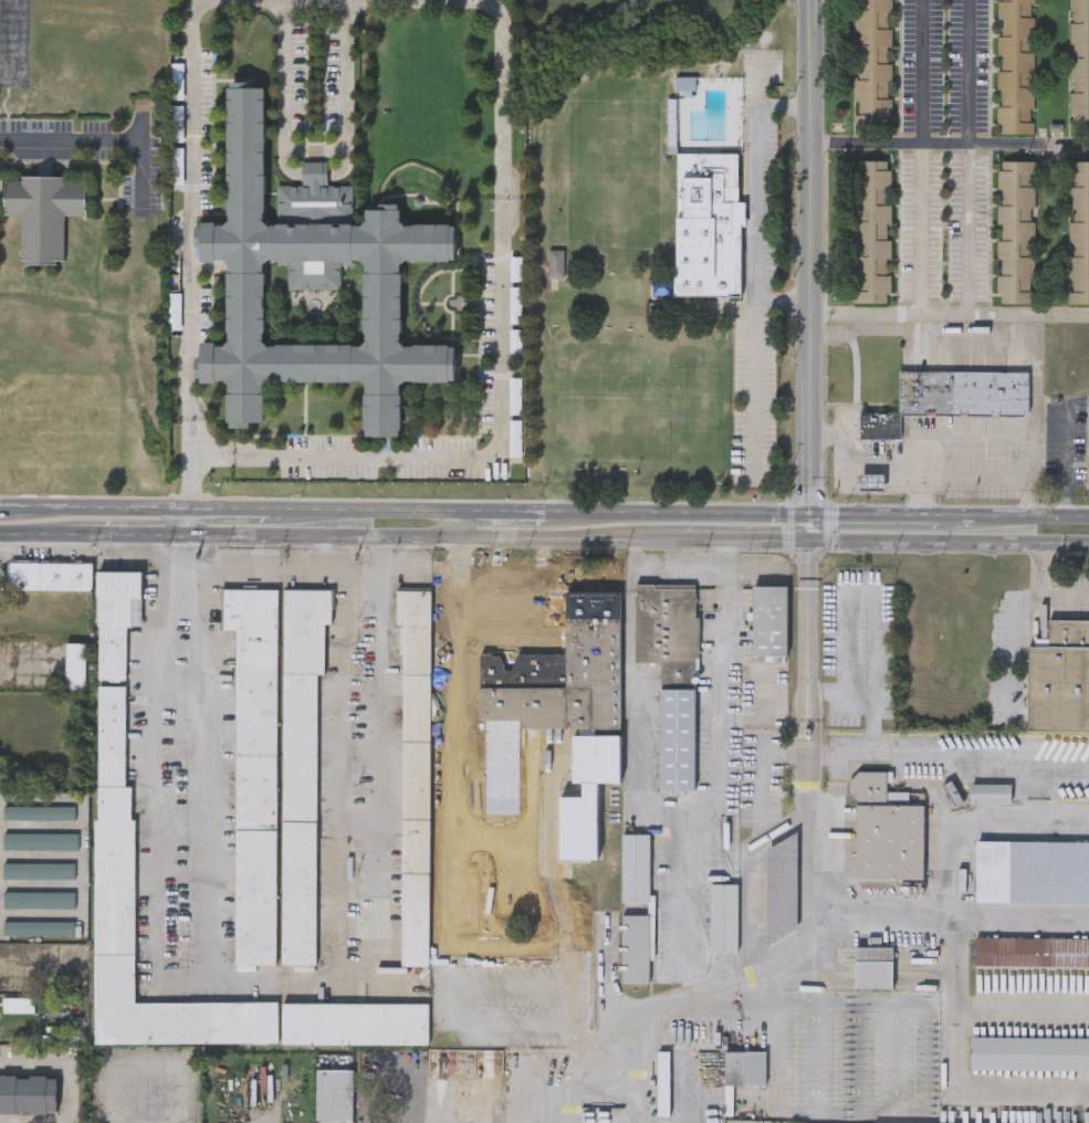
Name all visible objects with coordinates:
road: (13, 43)
building: (1078, 60)
building: (871, 64)
building: (1015, 66)
building: (683, 85)
road: (502, 92)
road: (71, 139)
road: (949, 143)
road: (313, 153)
road: (921, 157)
road: (966, 157)
building: (179, 168)
road: (753, 180)
road: (188, 204)
building: (43, 212)
building: (708, 228)
building: (870, 231)
building: (1015, 232)
building: (1078, 232)
building: (556, 265)
road: (809, 270)
building: (312, 281)
road: (949, 315)
road: (964, 342)
road: (753, 360)
building: (963, 391)
road: (1035, 416)
building: (879, 424)
road: (938, 437)
road: (494, 450)
road: (212, 452)
road: (187, 461)
road: (1065, 461)
road: (847, 463)
building: (872, 482)
road: (4, 505)
road: (95, 506)
road: (229, 507)
road: (369, 510)
road: (504, 511)
road: (678, 513)
traffic signals: (809, 514)
road: (875, 514)
road: (1014, 516)
road: (181, 521)
road: (462, 523)
road: (57, 532)
road: (148, 533)
road: (322, 534)
road: (573, 537)
road: (746, 539)
traffic signals: (809, 539)
road: (949, 540)
road: (461, 555)
road: (635, 560)
road: (729, 560)
road: (268, 568)
road: (353, 568)
road: (514, 570)
building: (50, 575)
road: (1045, 589)
building: (769, 620)
road: (873, 620)
road: (454, 639)
building: (76, 665)
building: (113, 667)
building: (671, 673)
building: (1059, 680)
road: (826, 691)
building: (568, 705)
road: (855, 706)
road: (763, 714)
road: (636, 718)
road: (815, 734)
road: (453, 749)
road: (873, 755)
road: (1016, 755)
road: (338, 766)
building: (300, 767)
road: (762, 767)
building: (254, 769)
building: (415, 772)
road: (1011, 777)
building: (989, 793)
road: (210, 794)
road: (521, 796)
road: (715, 799)
building: (38, 812)
road: (976, 821)
building: (887, 829)
building: (41, 840)
building: (635, 868)
building: (38, 869)
building: (1032, 870)
building: (113, 894)
building: (38, 898)
road: (810, 904)
building: (723, 917)
road: (880, 917)
building: (375, 919)
road: (1018, 920)
building: (38, 926)
building: (636, 949)
building: (1030, 951)
road: (950, 964)
building: (872, 966)
road: (255, 976)
road: (609, 988)
road: (453, 990)
road: (1023, 1012)
building: (354, 1022)
road: (891, 1027)
road: (820, 1029)
building: (1029, 1051)
road: (64, 1063)
building: (744, 1066)
building: (661, 1081)
road: (984, 1092)
building: (28, 1093)
building: (334, 1094)
road: (625, 1100)
road: (161, 1113)

